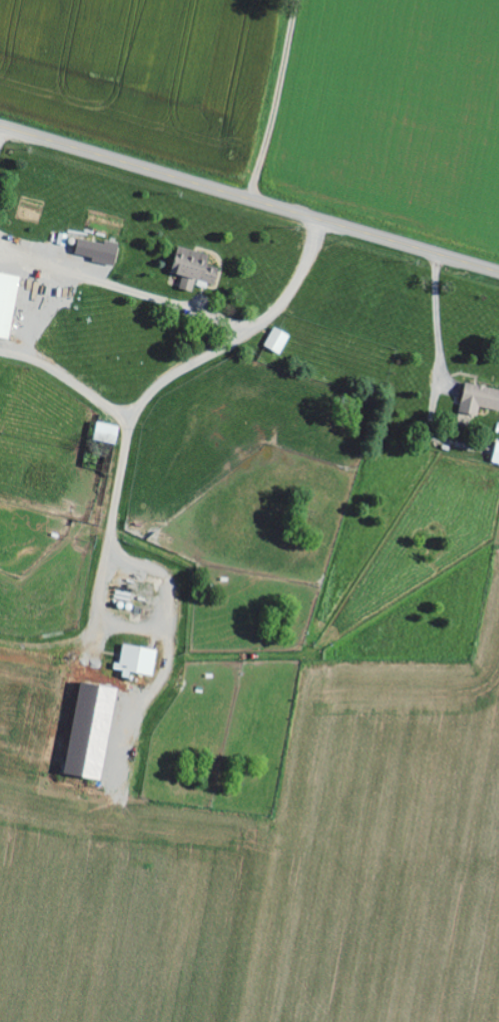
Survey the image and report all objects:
road: (235, 94)
road: (249, 198)
building: (96, 251)
building: (192, 268)
building: (7, 302)
building: (277, 341)
building: (478, 399)
building: (105, 433)
building: (495, 453)
road: (213, 619)
building: (135, 661)

